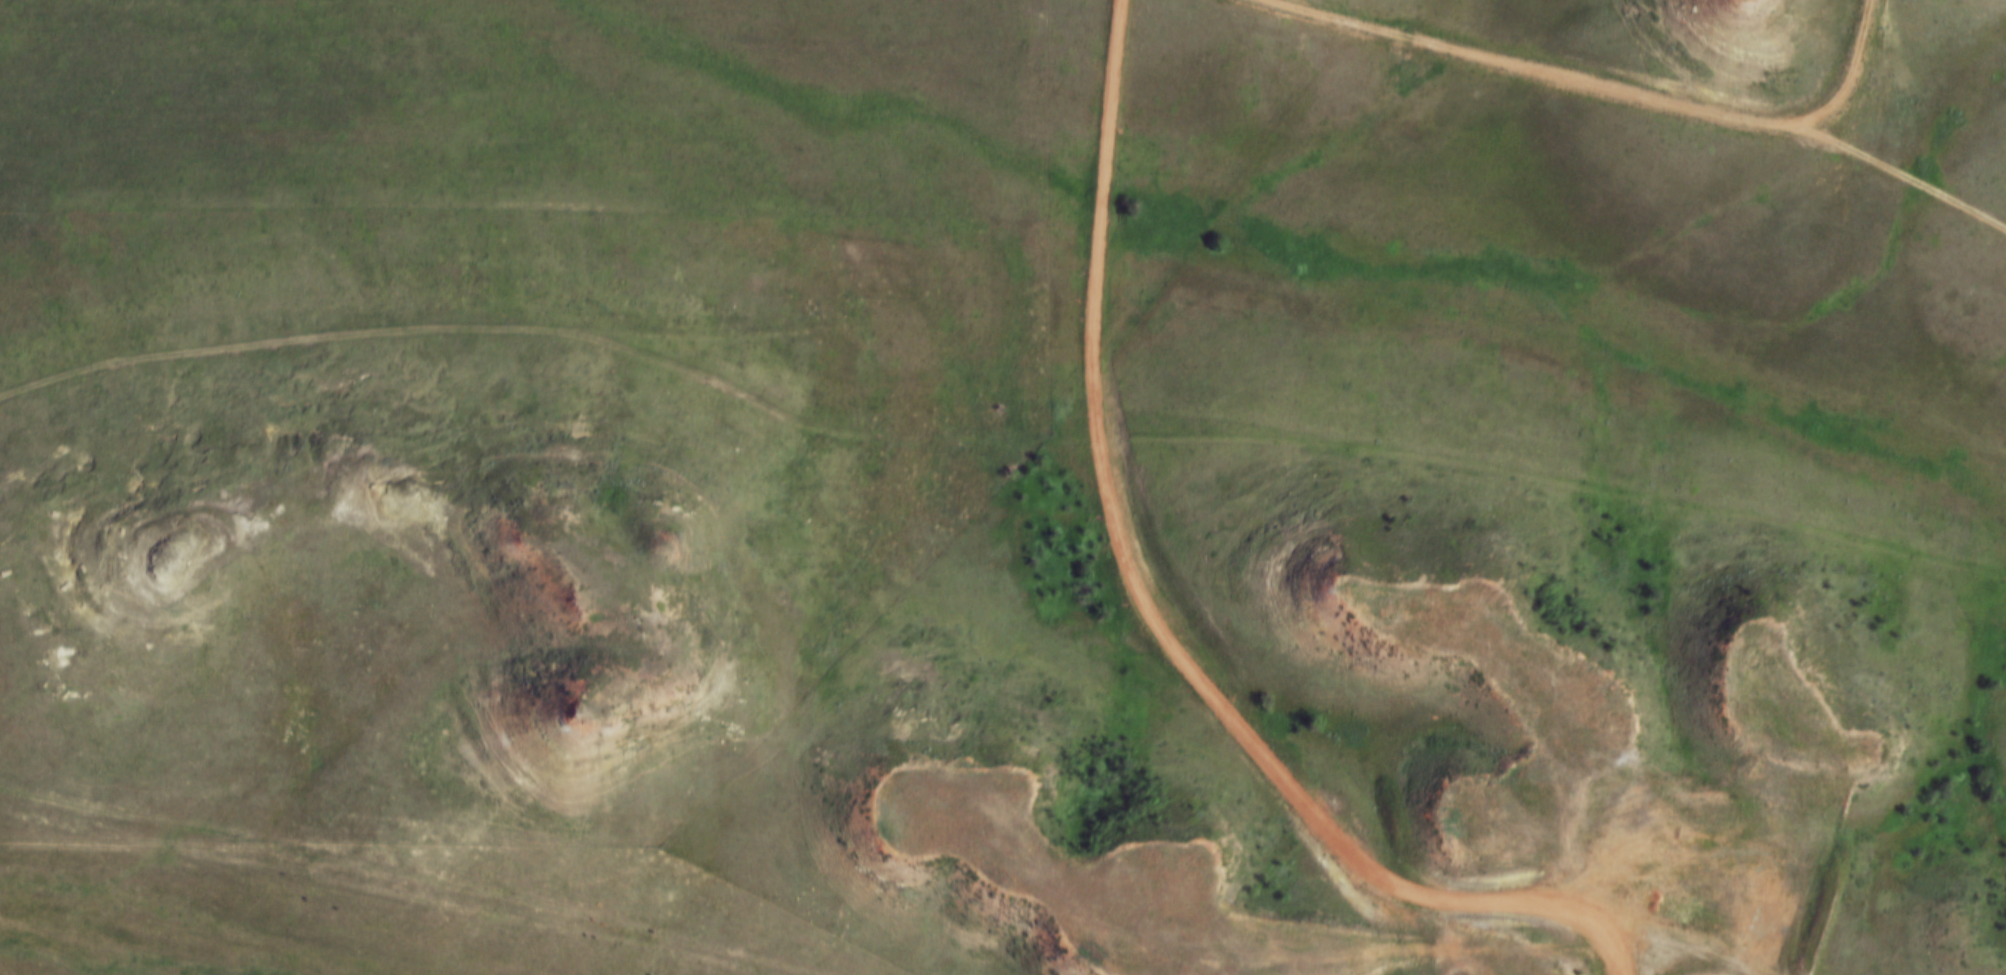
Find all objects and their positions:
quarry: (1740, 0)
road: (1593, 86)
road: (1893, 176)

